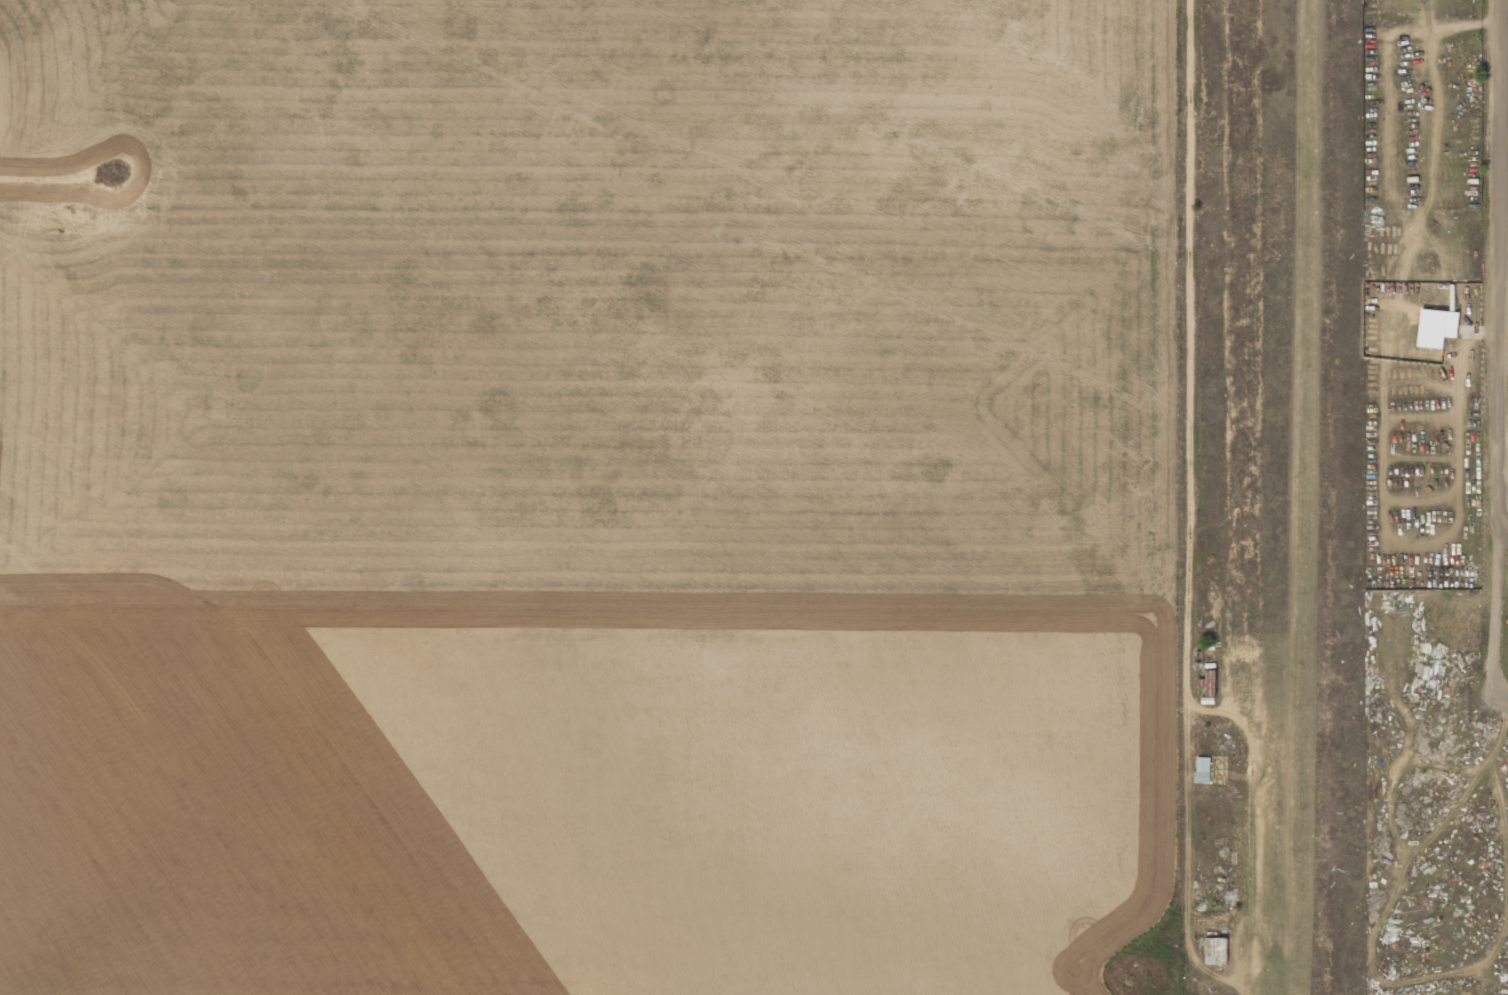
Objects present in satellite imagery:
building: (1203, 770)
building: (1216, 951)

